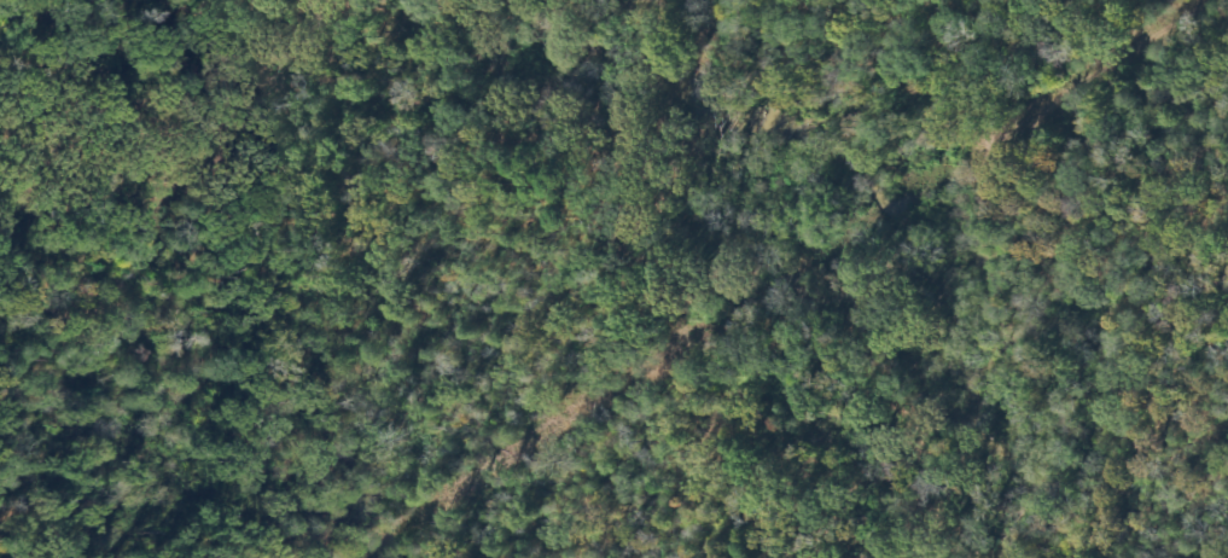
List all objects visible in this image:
river: (935, 226)

